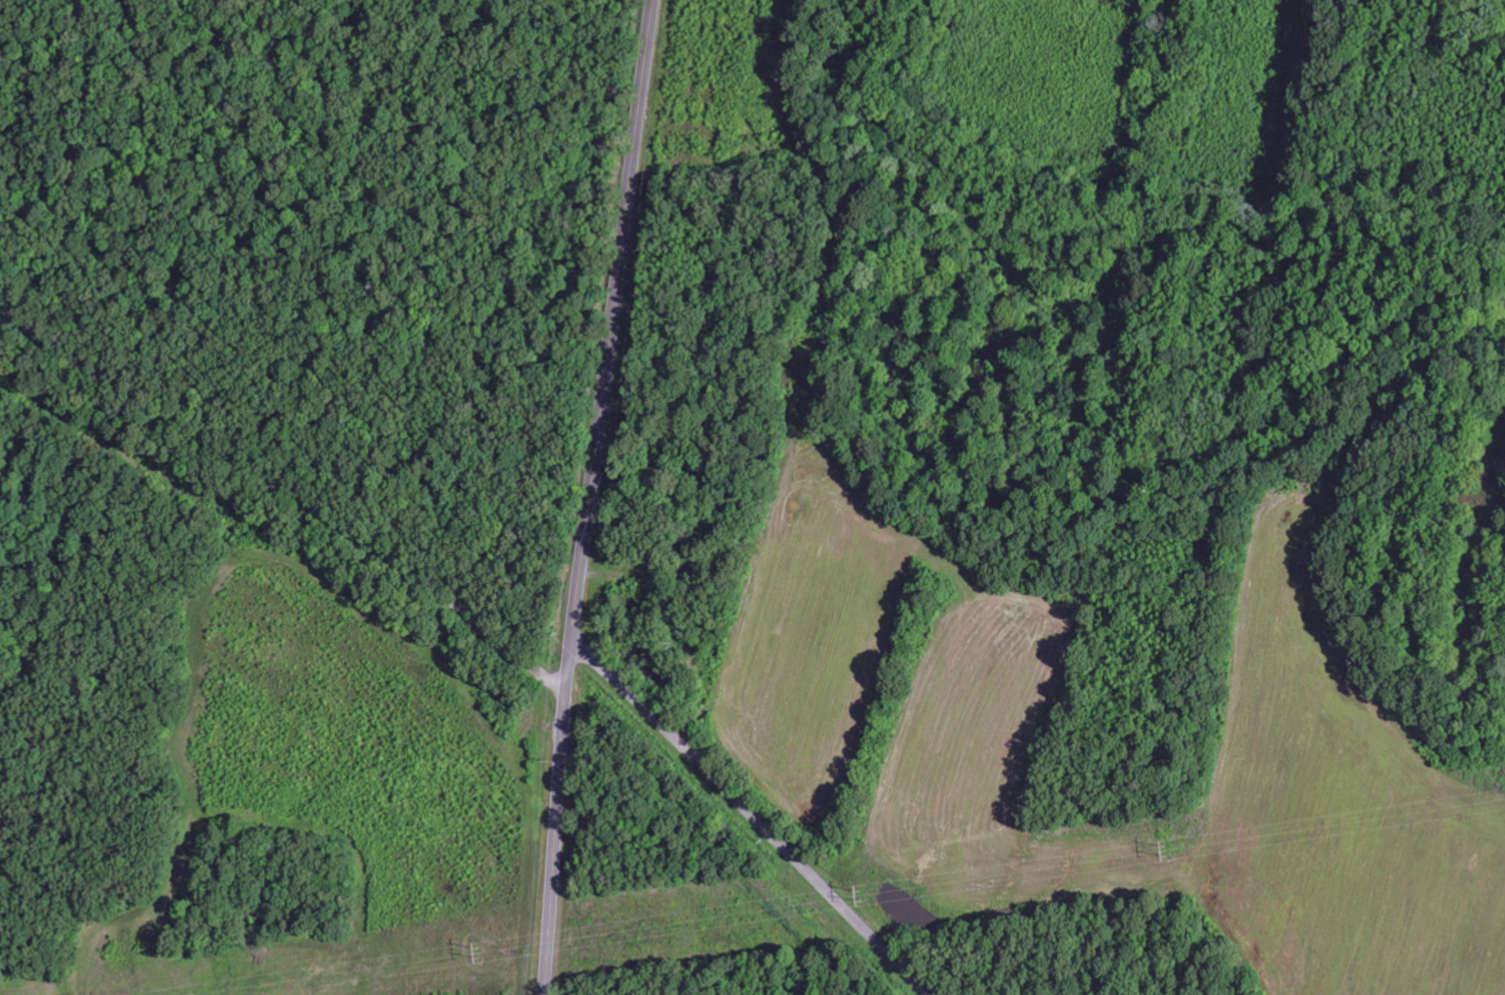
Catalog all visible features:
road: (591, 496)
road: (282, 541)
road: (754, 817)
power tower: (1164, 851)
power tower: (862, 894)
power tower: (482, 948)

